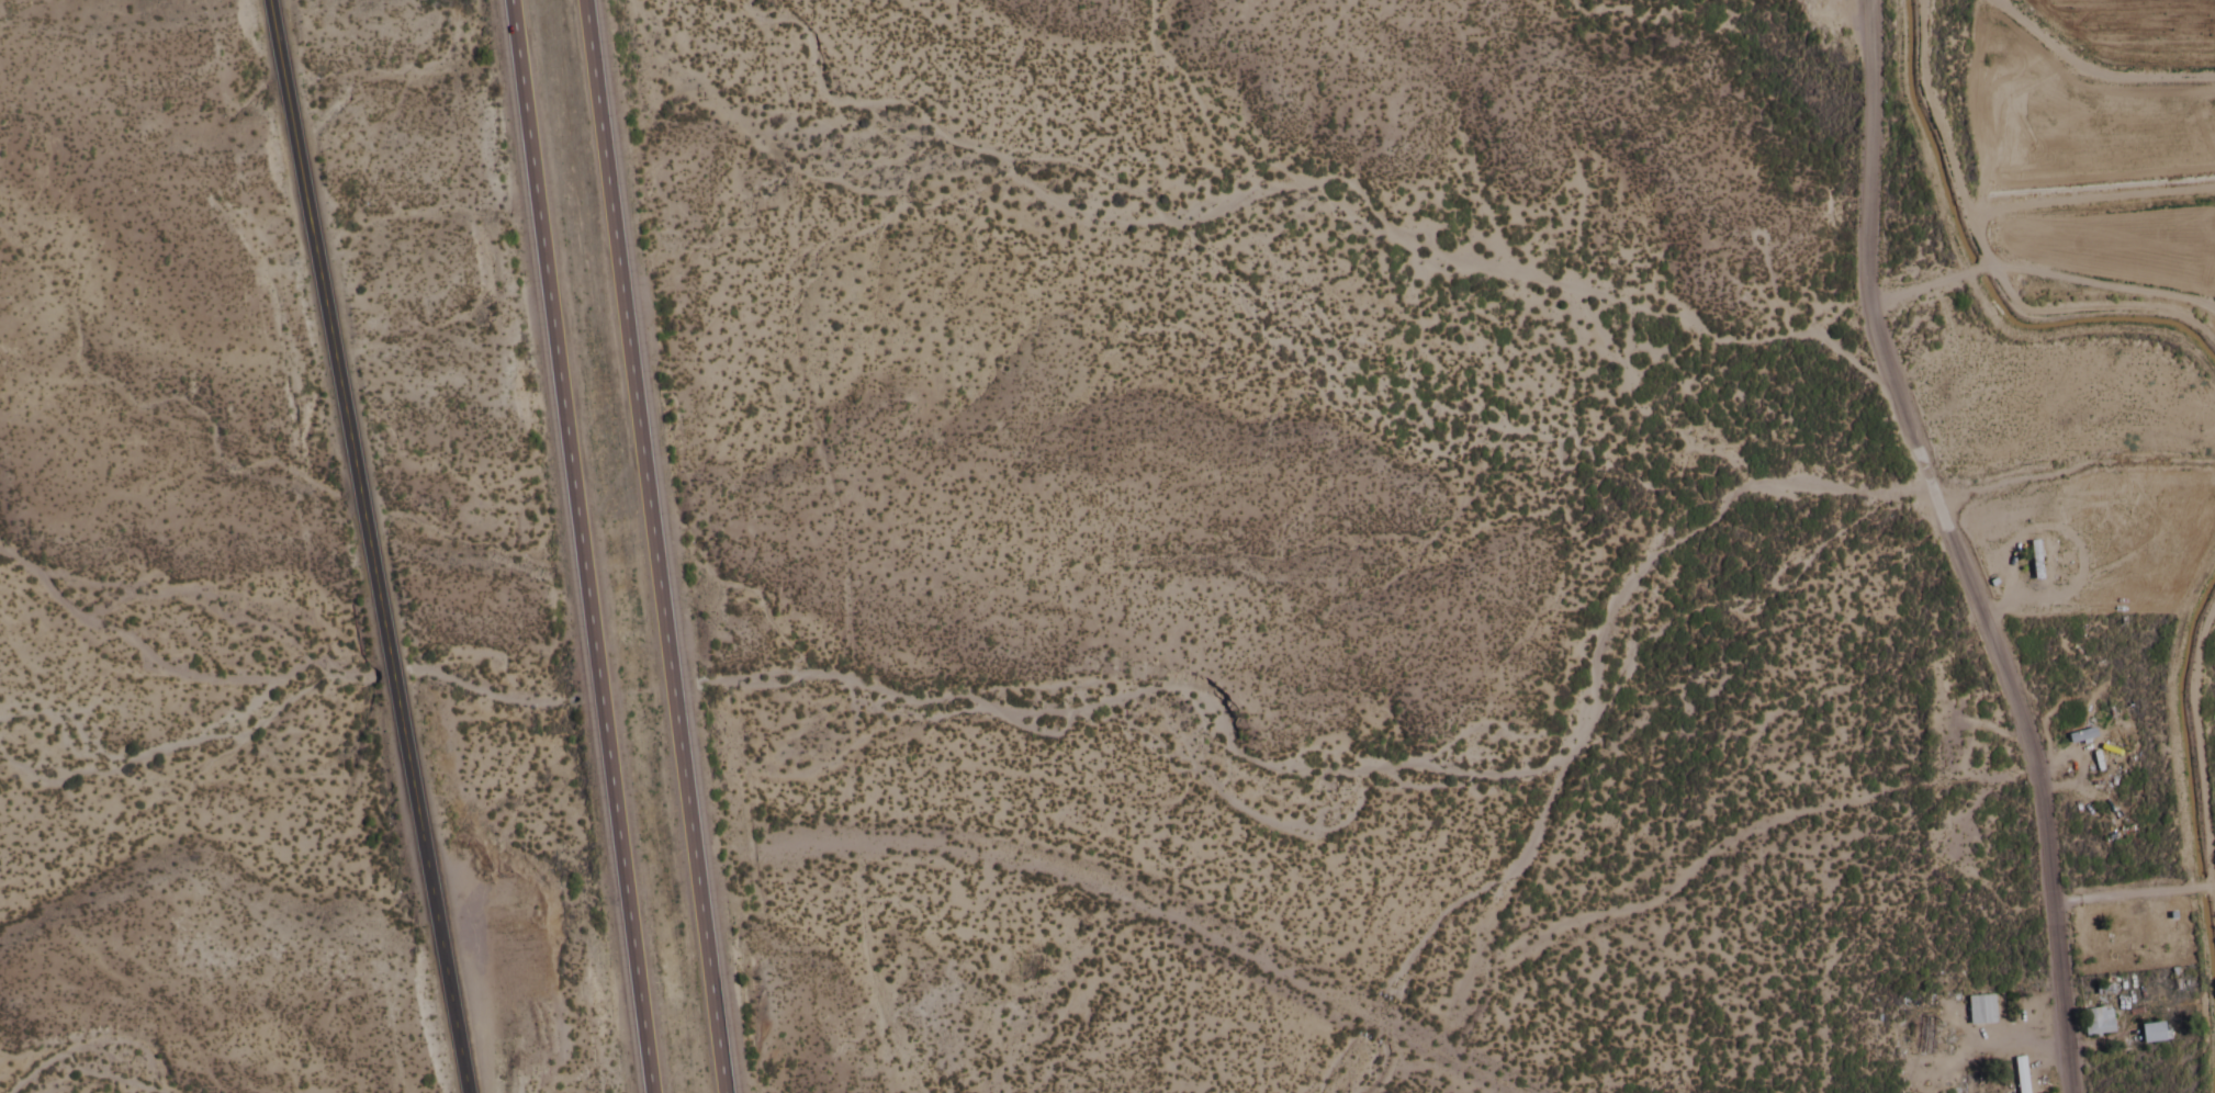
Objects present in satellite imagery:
road: (2014, 25)
road: (2125, 82)
road: (1933, 136)
road: (1908, 143)
road: (2085, 200)
road: (2039, 269)
road: (2093, 309)
road: (2083, 335)
road: (370, 545)
road: (577, 545)
road: (1953, 545)
road: (652, 546)
road: (2161, 709)
road: (2189, 733)
road: (2129, 895)
road: (2208, 943)
road: (2195, 987)
building: (1976, 1011)
building: (2093, 1023)
building: (2148, 1034)
road: (1667, 1053)
road: (2214, 1070)
building: (2016, 1075)
building: (1907, 1078)

